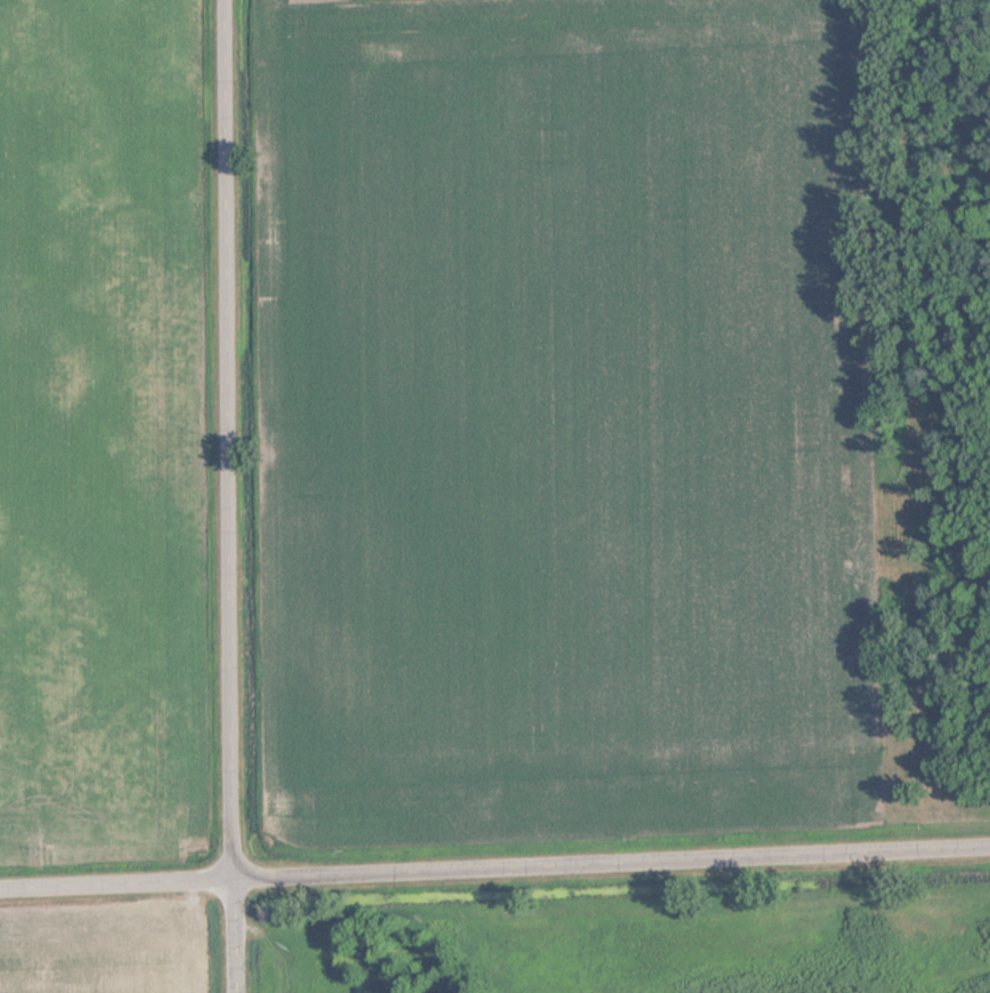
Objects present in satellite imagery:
road: (235, 496)
road: (494, 867)

